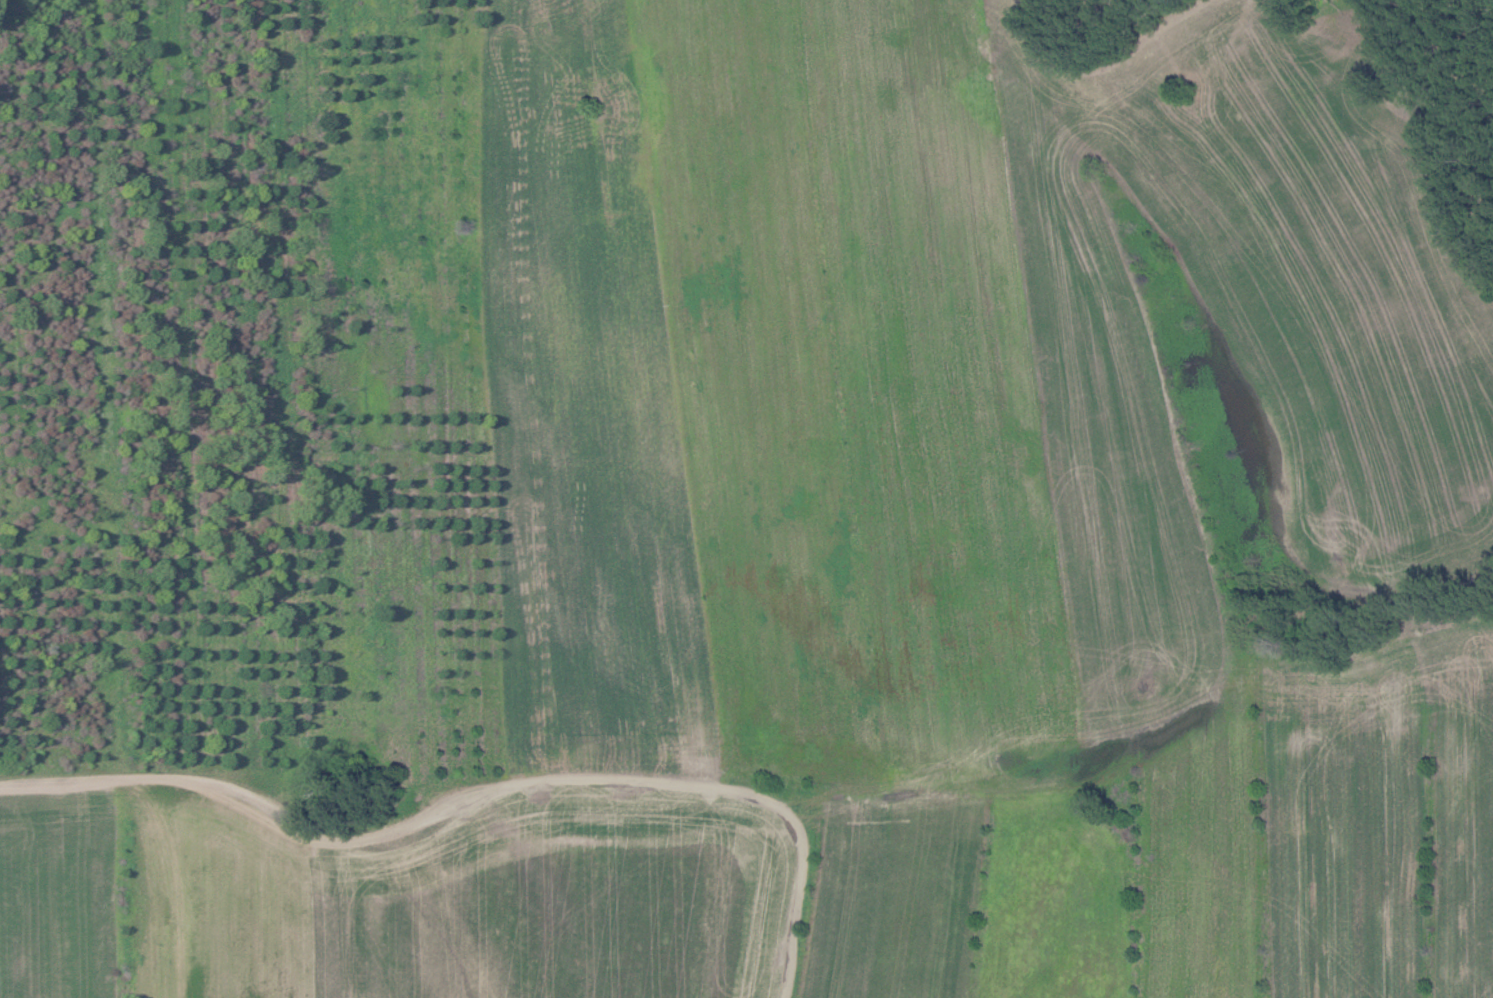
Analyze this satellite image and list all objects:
road: (754, 787)

